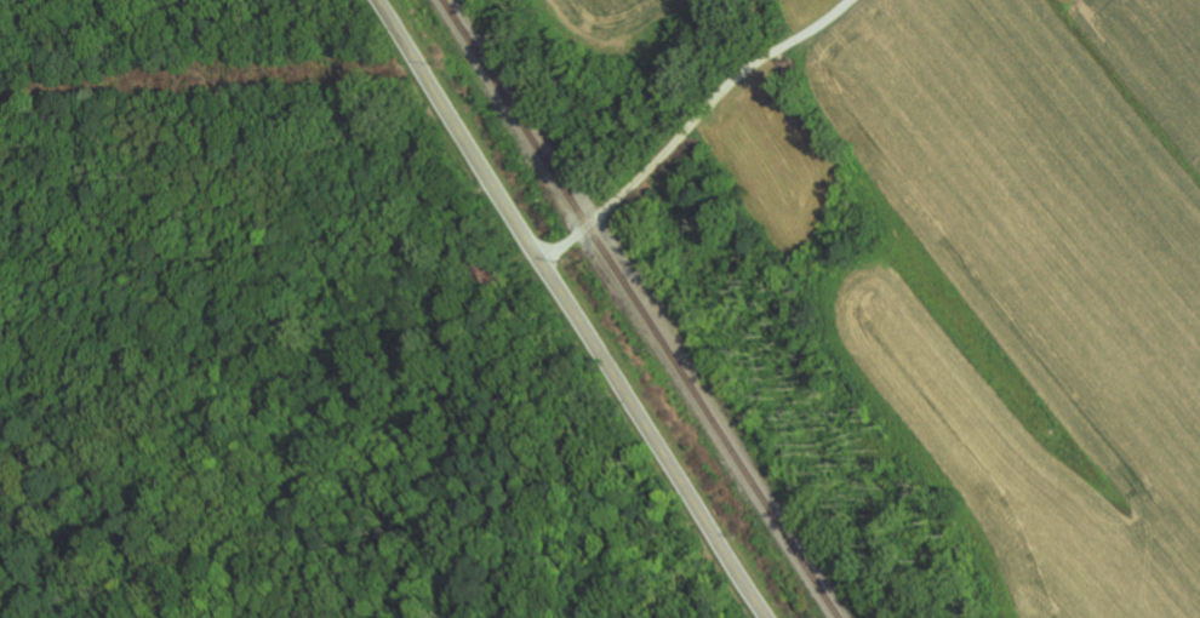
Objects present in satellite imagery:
road: (688, 120)
road: (570, 309)
railway: (639, 309)

